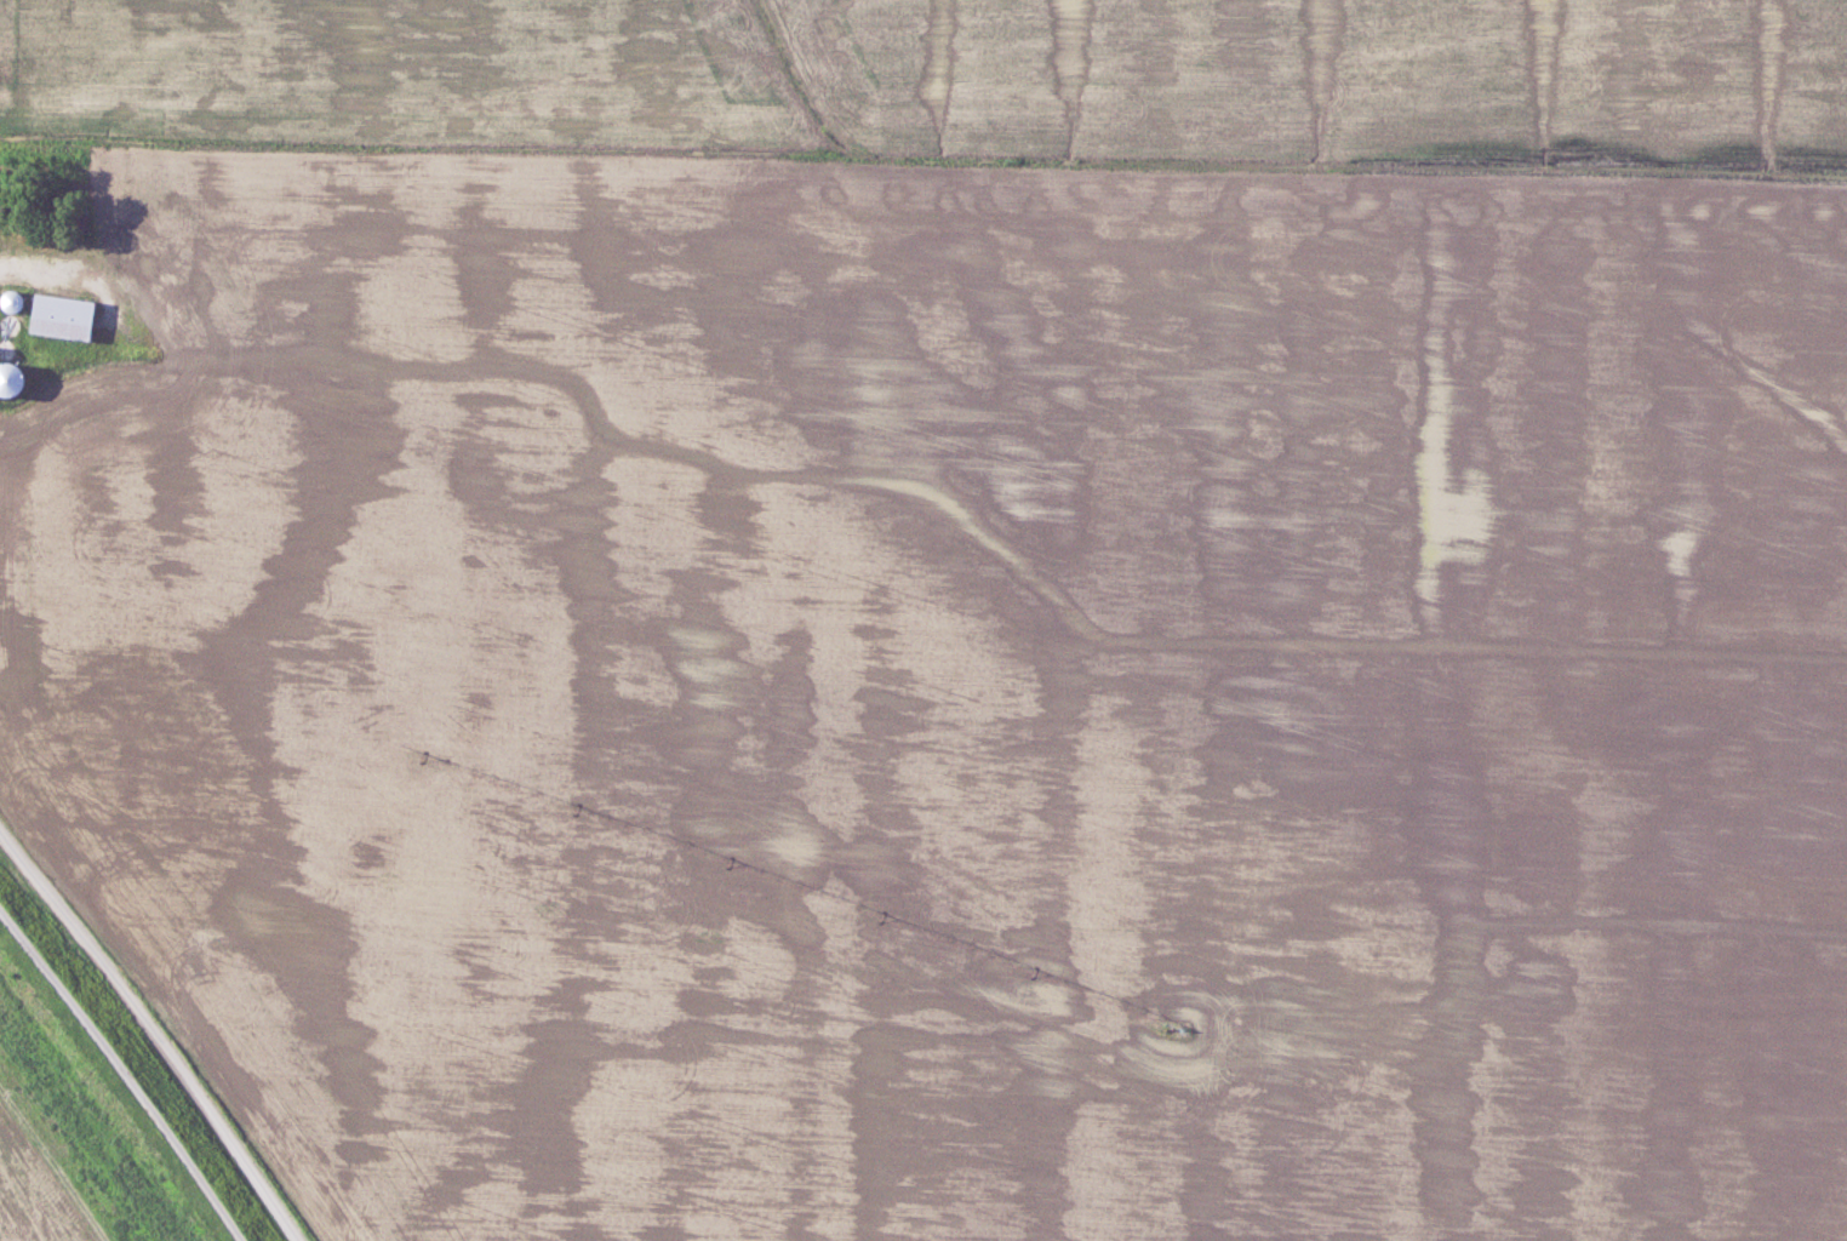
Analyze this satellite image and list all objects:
road: (69, 269)
building: (16, 301)
building: (61, 318)
building: (13, 349)
building: (15, 379)
road: (150, 1033)
road: (124, 1073)

